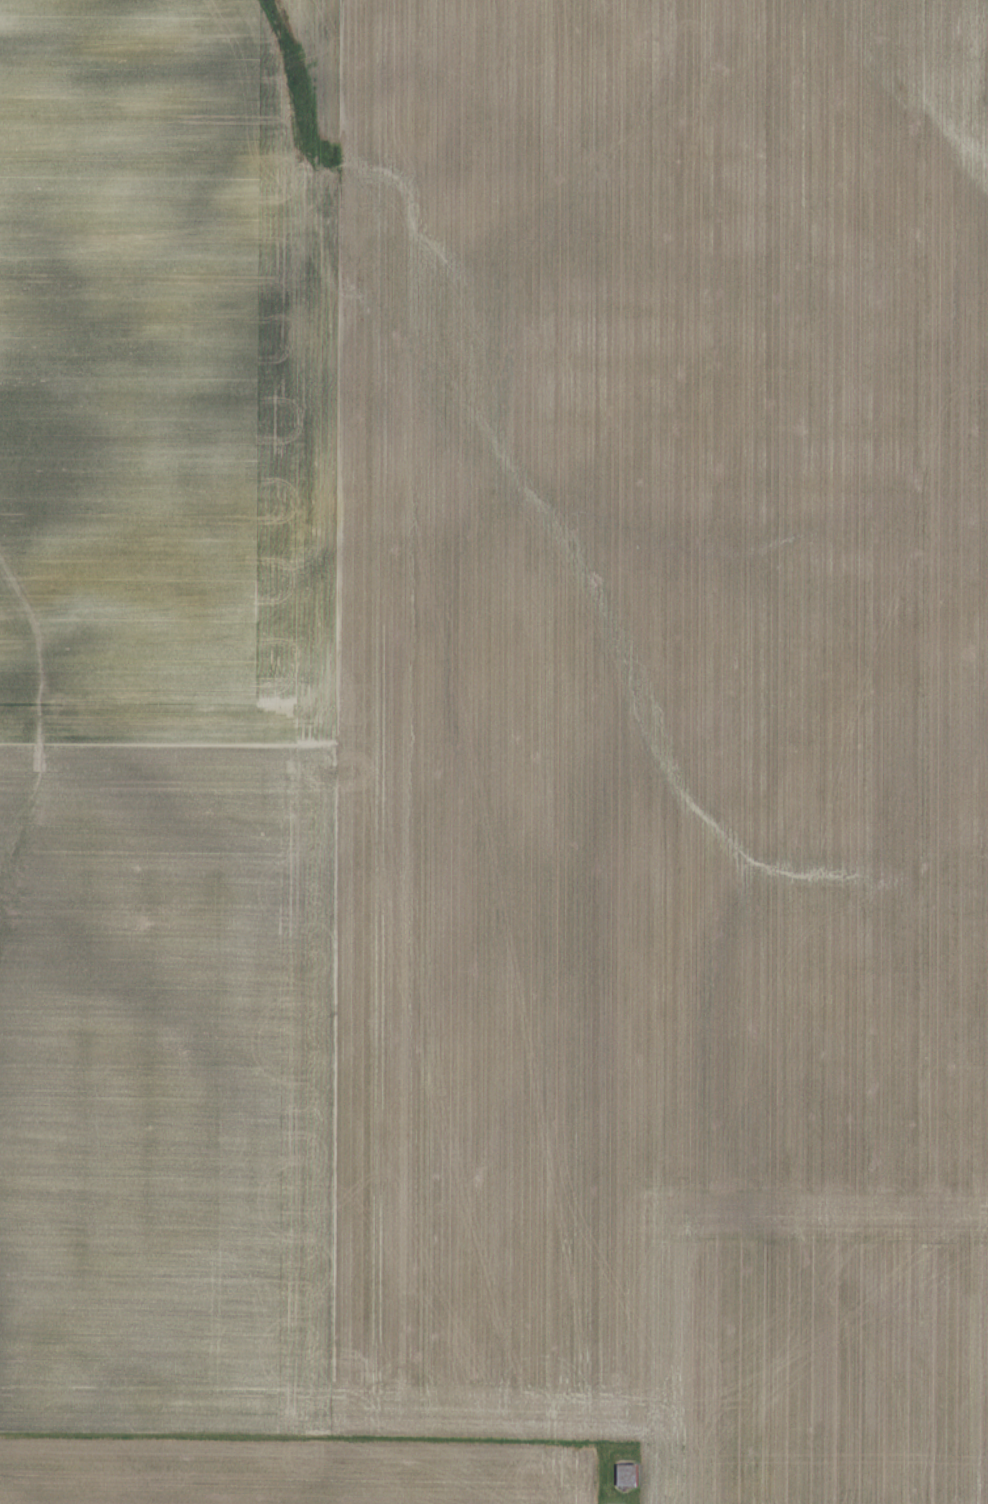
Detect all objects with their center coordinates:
building: (623, 1475)

